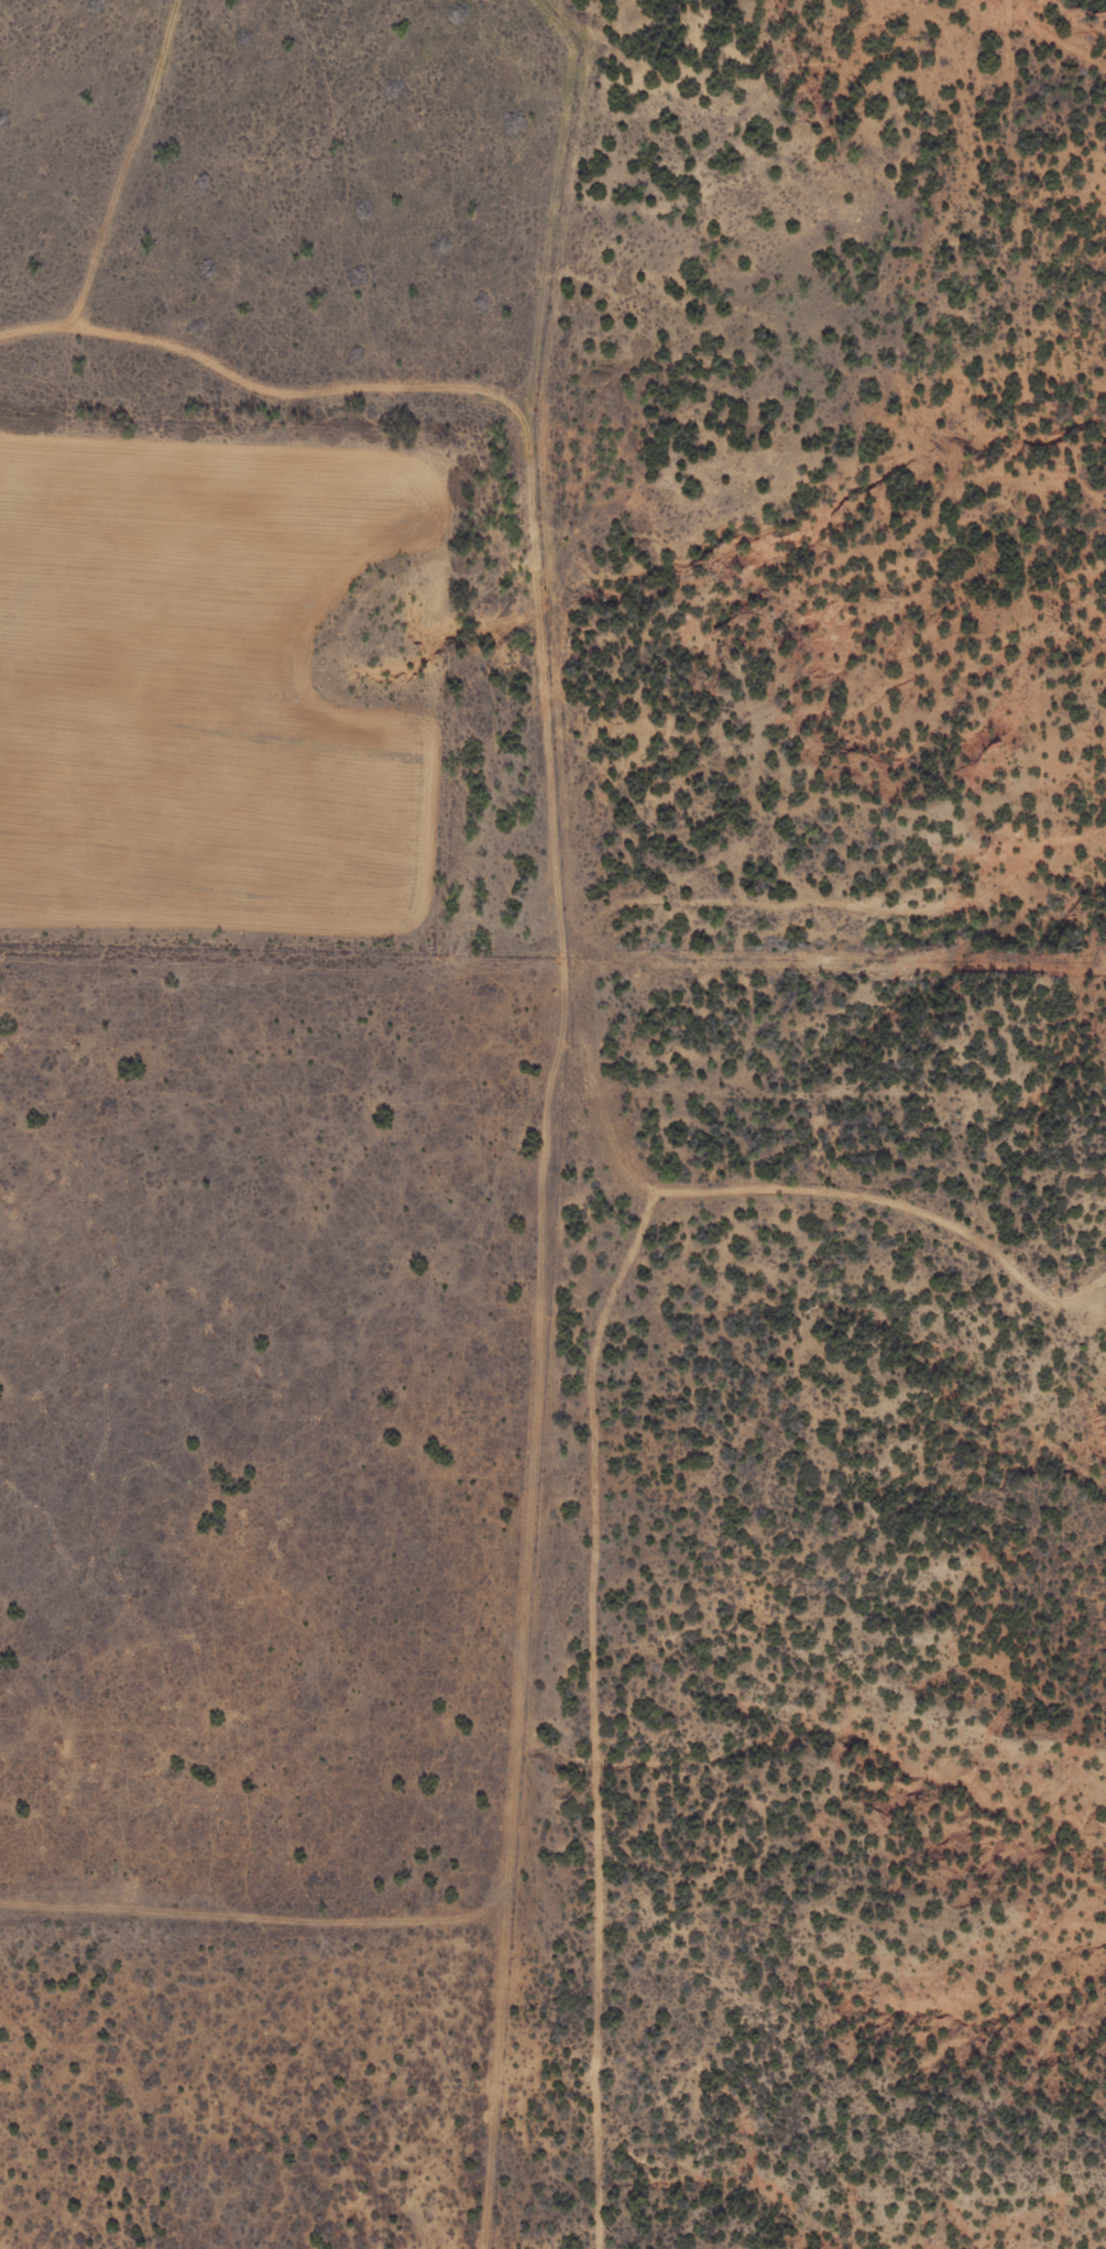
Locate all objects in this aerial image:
road: (138, 183)

